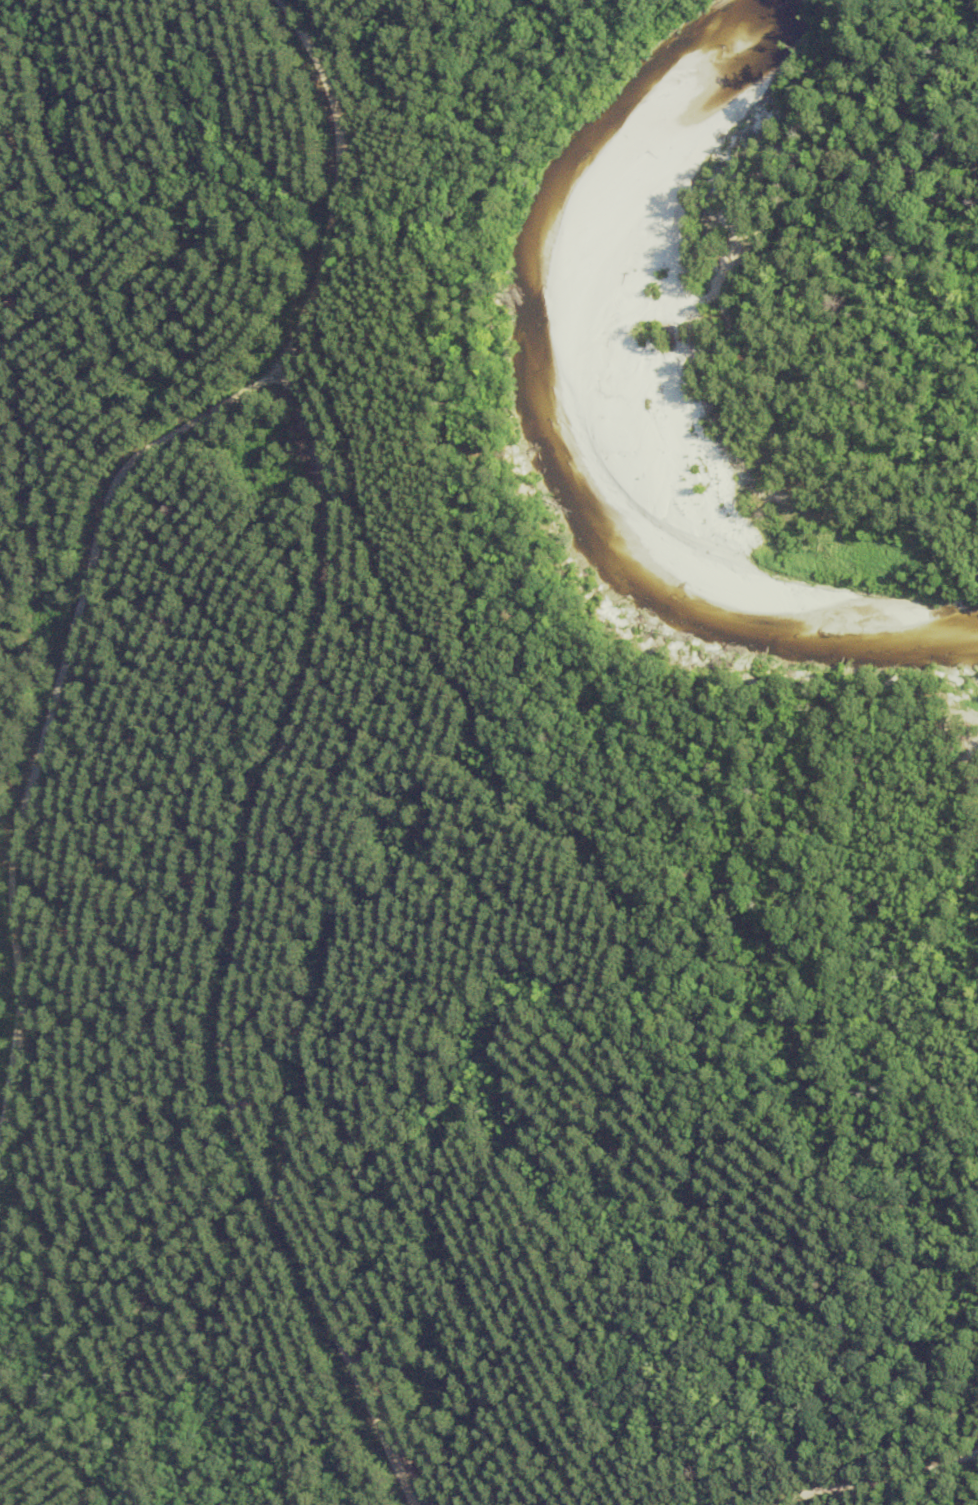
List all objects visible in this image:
road: (843, 166)
road: (331, 253)
river: (545, 424)
road: (45, 732)
road: (237, 1022)
road: (884, 1484)

